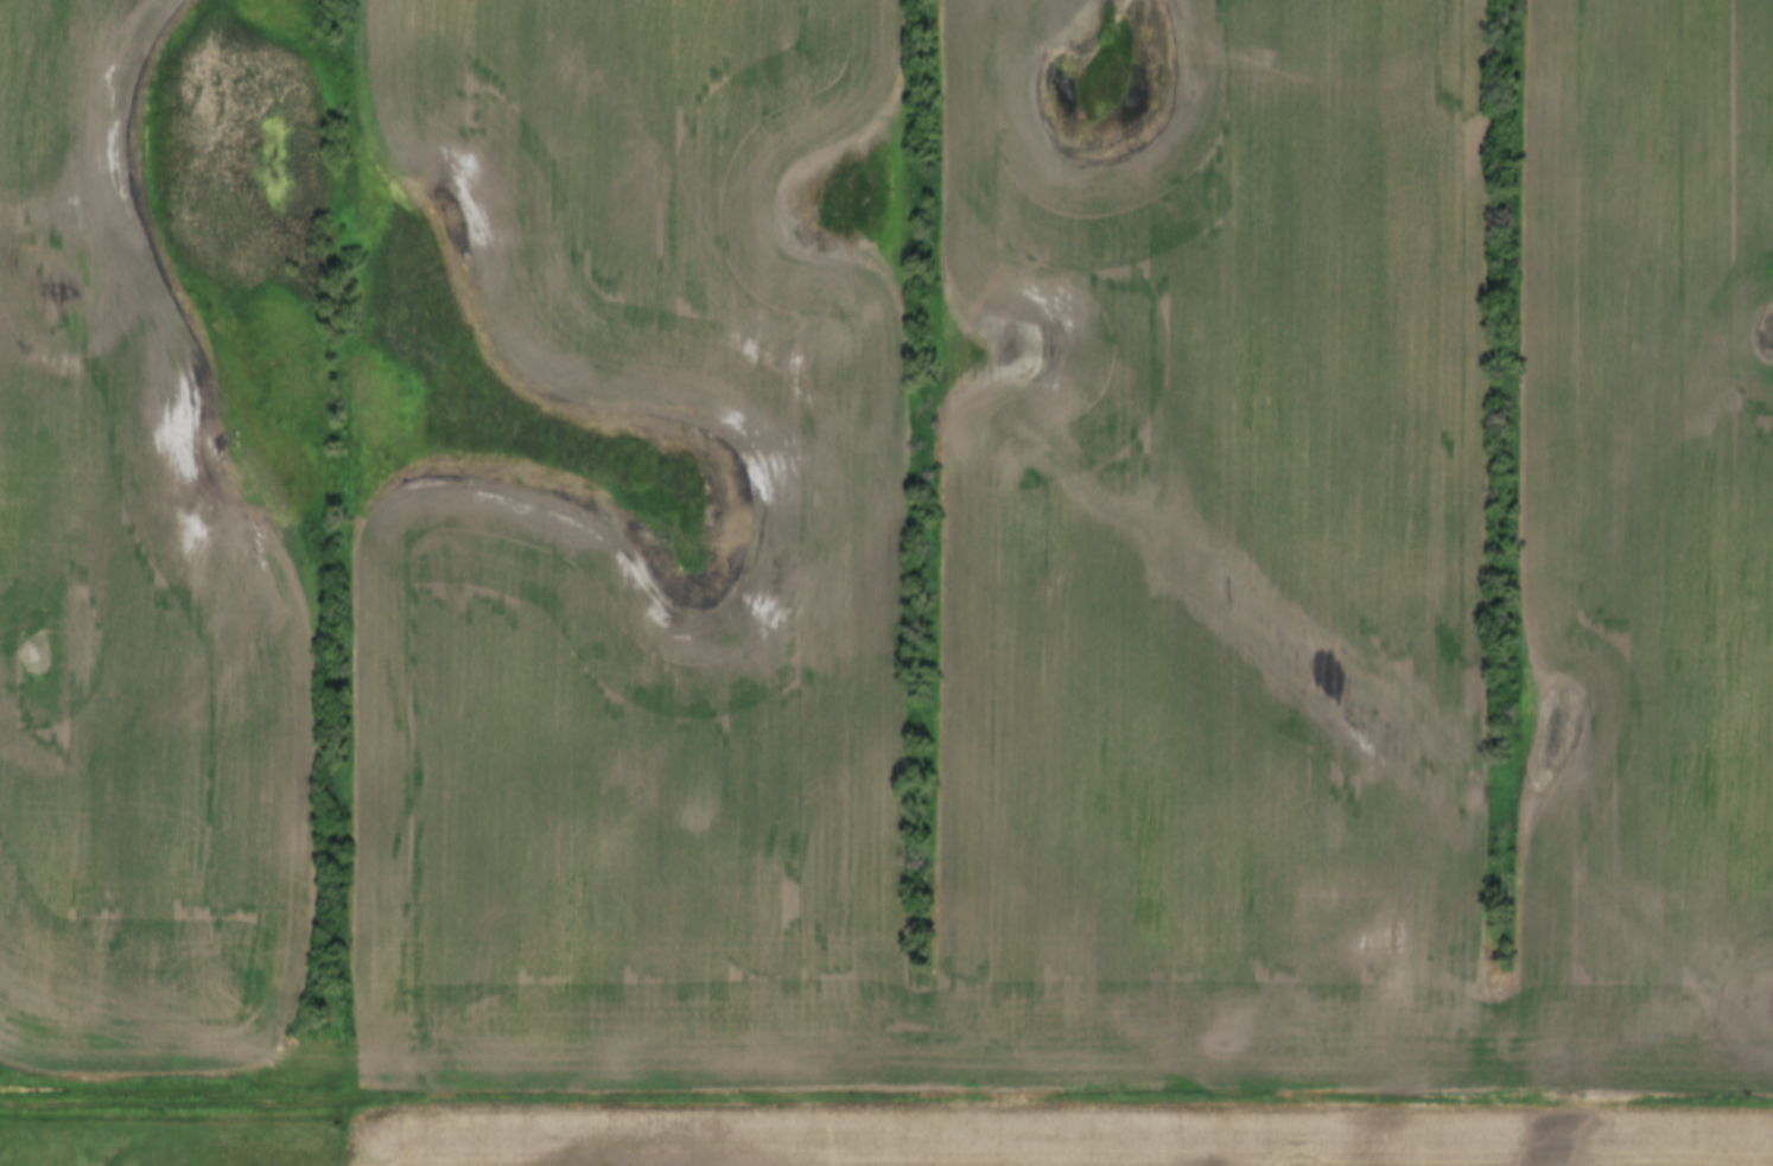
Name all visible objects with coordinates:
road: (885, 1111)

